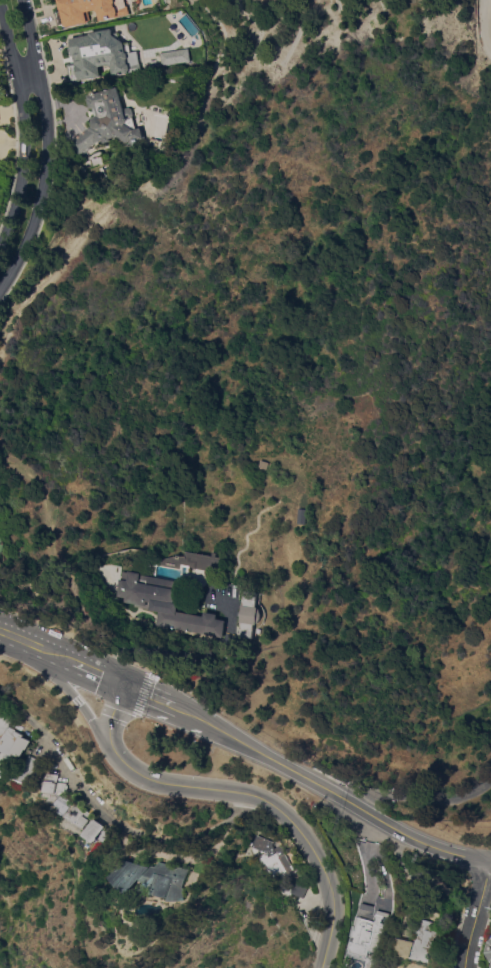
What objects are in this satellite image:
building: (91, 10)
building: (102, 55)
road: (23, 72)
building: (110, 121)
road: (22, 126)
road: (44, 146)
building: (101, 160)
building: (265, 464)
building: (301, 516)
building: (187, 564)
building: (168, 604)
building: (252, 614)
road: (34, 642)
road: (97, 669)
traffic signals: (127, 682)
road: (151, 693)
road: (76, 695)
building: (10, 735)
building: (31, 770)
road: (329, 791)
road: (247, 793)
road: (423, 794)
building: (65, 803)
road: (108, 814)
building: (101, 831)
building: (275, 857)
building: (157, 878)
building: (300, 889)
road: (479, 924)
building: (376, 928)
building: (423, 942)
building: (489, 950)

